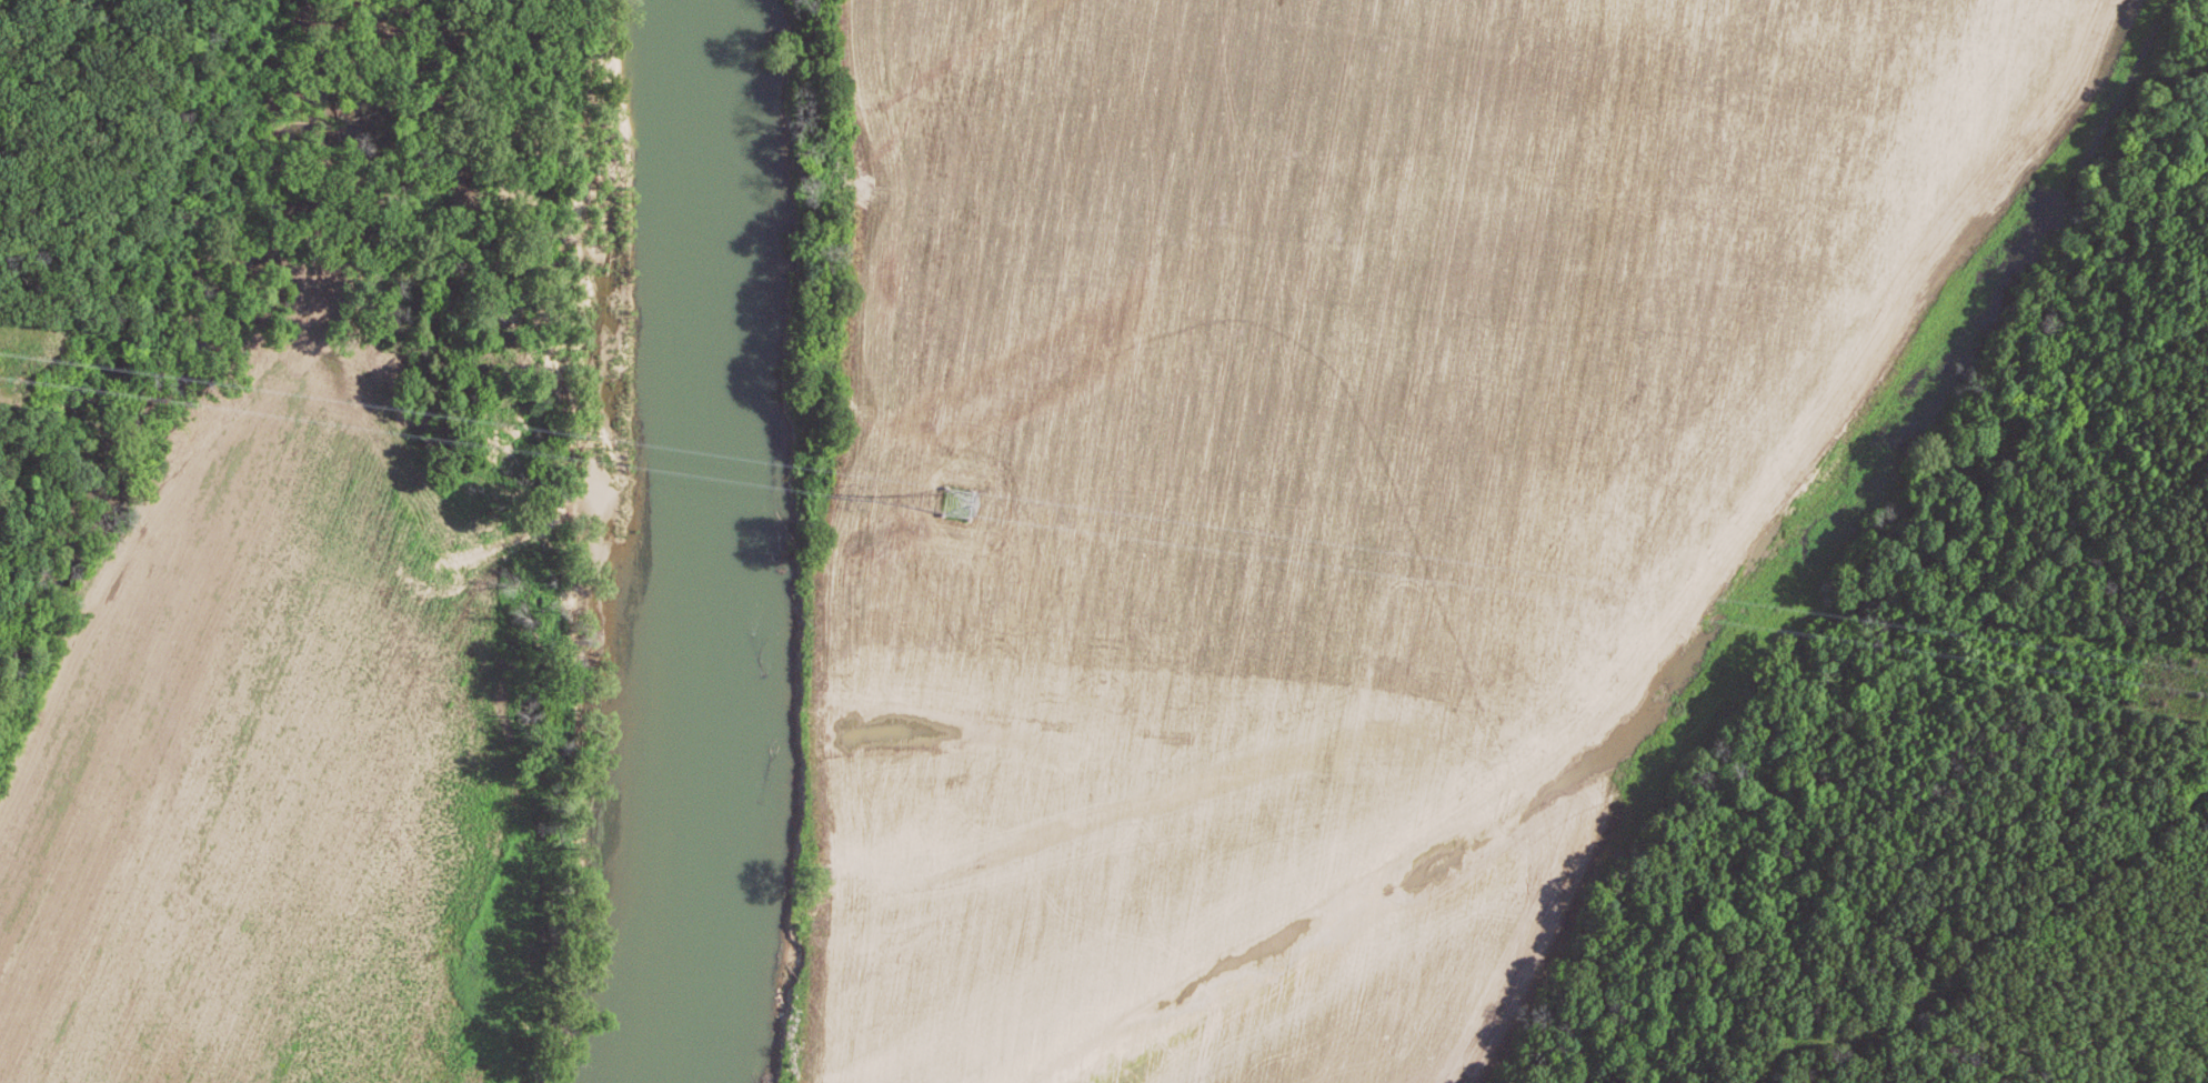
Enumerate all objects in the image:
power tower: (965, 508)
river: (663, 542)
road: (545, 875)

